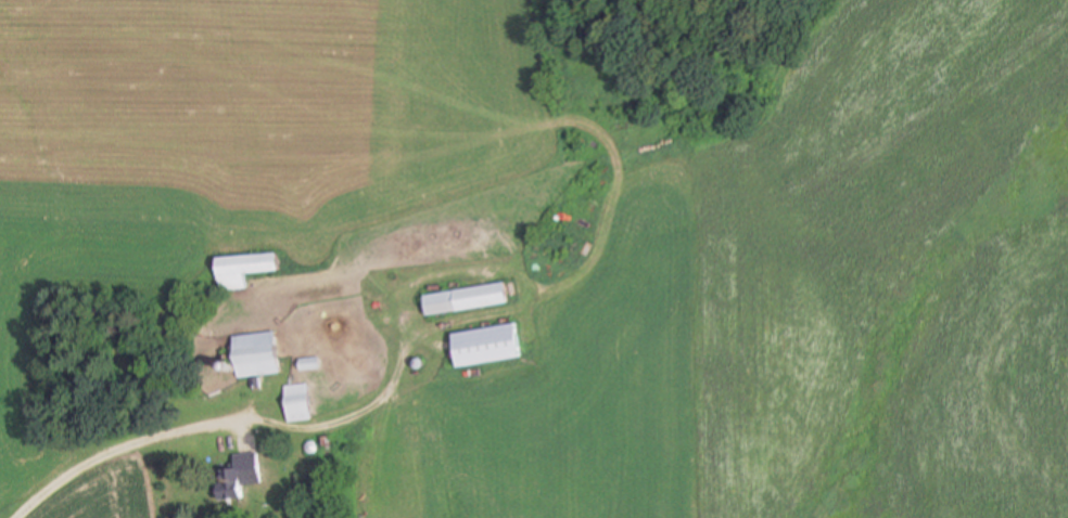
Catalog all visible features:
building: (245, 270)
building: (472, 300)
building: (488, 347)
building: (257, 355)
building: (309, 364)
building: (300, 403)
road: (123, 446)
building: (240, 468)

